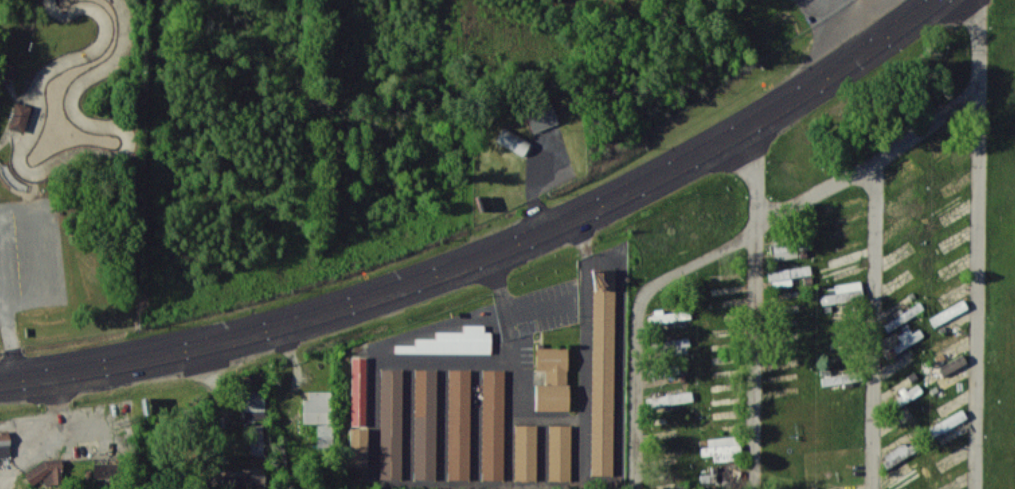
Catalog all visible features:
building: (9, 71)
building: (541, 116)
building: (512, 140)
road: (869, 164)
road: (976, 244)
road: (492, 251)
building: (787, 275)
building: (843, 292)
road: (758, 306)
building: (948, 312)
building: (669, 316)
building: (904, 316)
road: (9, 320)
road: (635, 321)
road: (872, 326)
road: (510, 332)
building: (453, 341)
building: (904, 341)
building: (674, 347)
building: (952, 364)
building: (603, 371)
building: (552, 378)
building: (837, 379)
building: (359, 391)
building: (907, 395)
building: (670, 398)
building: (254, 404)
building: (320, 416)
building: (948, 422)
building: (391, 423)
building: (425, 424)
building: (459, 424)
building: (493, 424)
building: (258, 440)
building: (5, 445)
building: (359, 447)
building: (526, 452)
building: (560, 452)
building: (899, 453)
building: (45, 472)
building: (235, 480)

